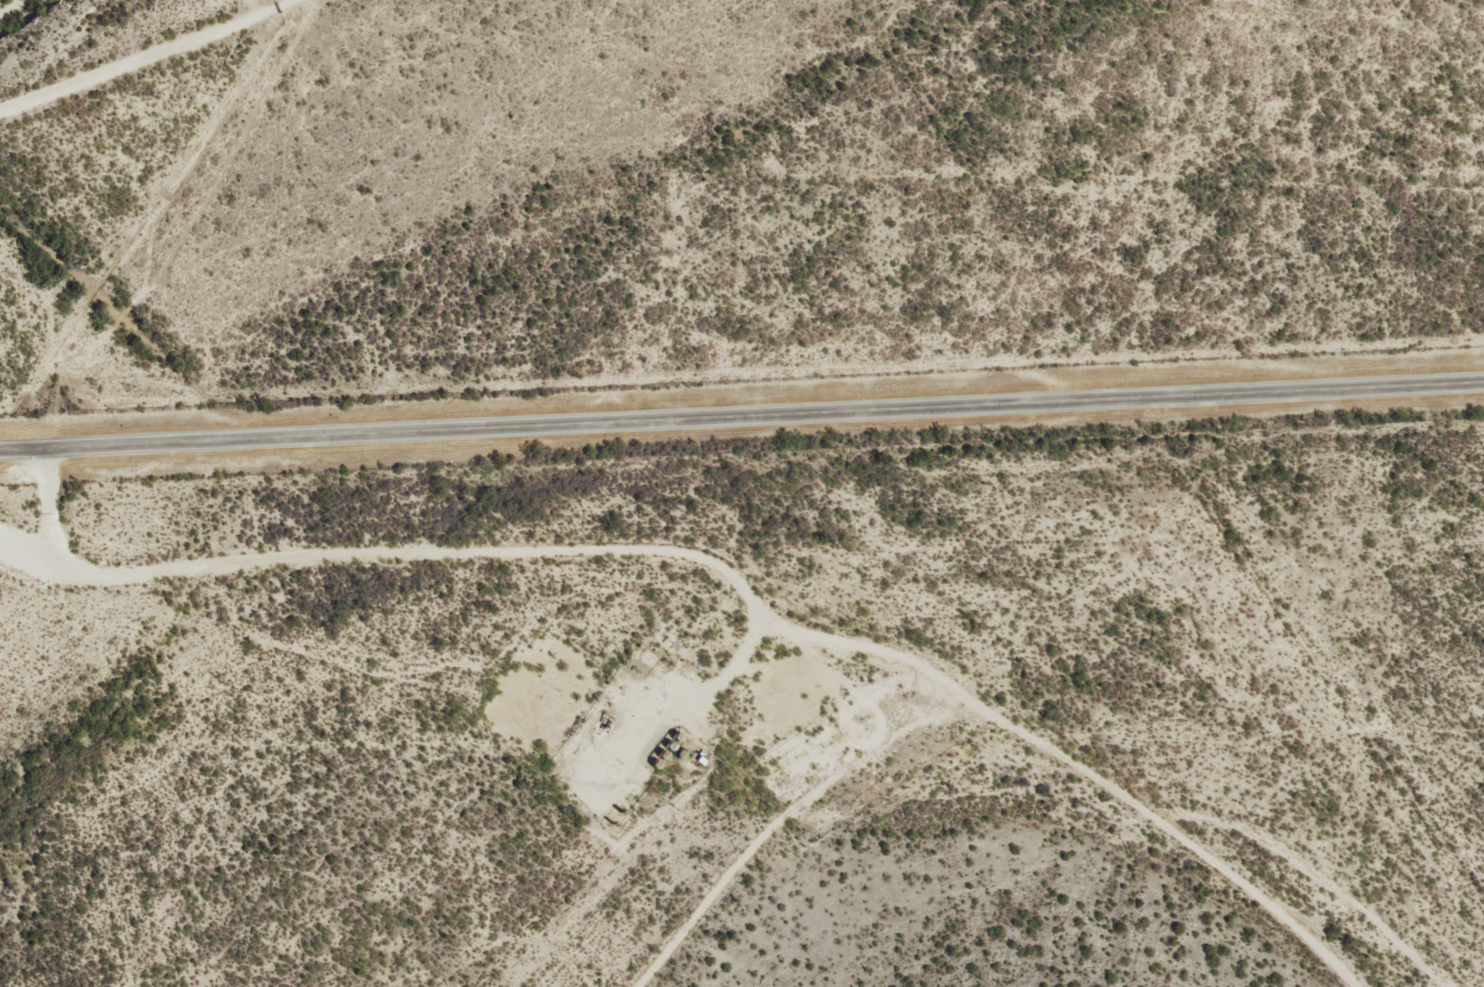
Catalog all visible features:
road: (172, 74)
road: (742, 413)

